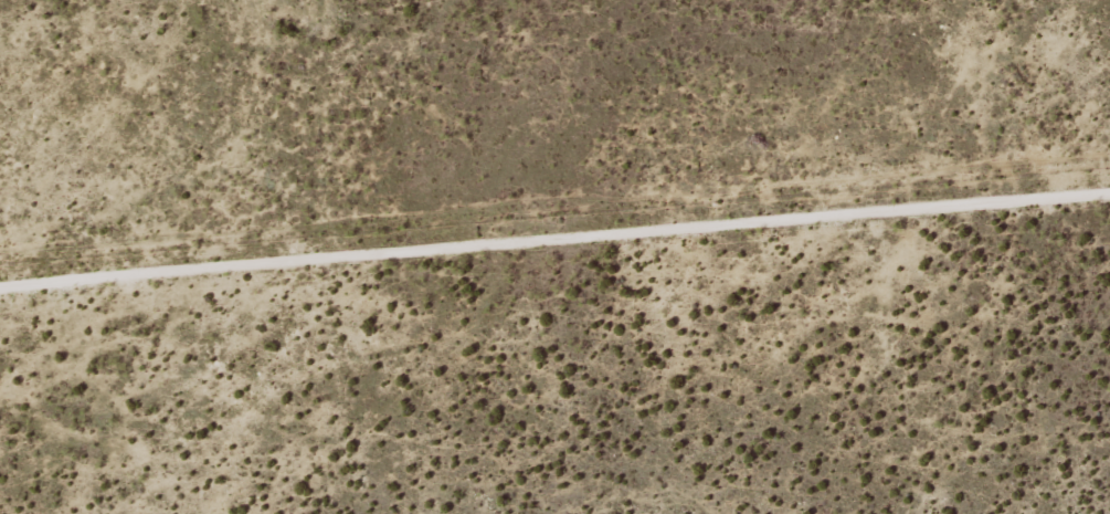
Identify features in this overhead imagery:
road: (554, 193)

